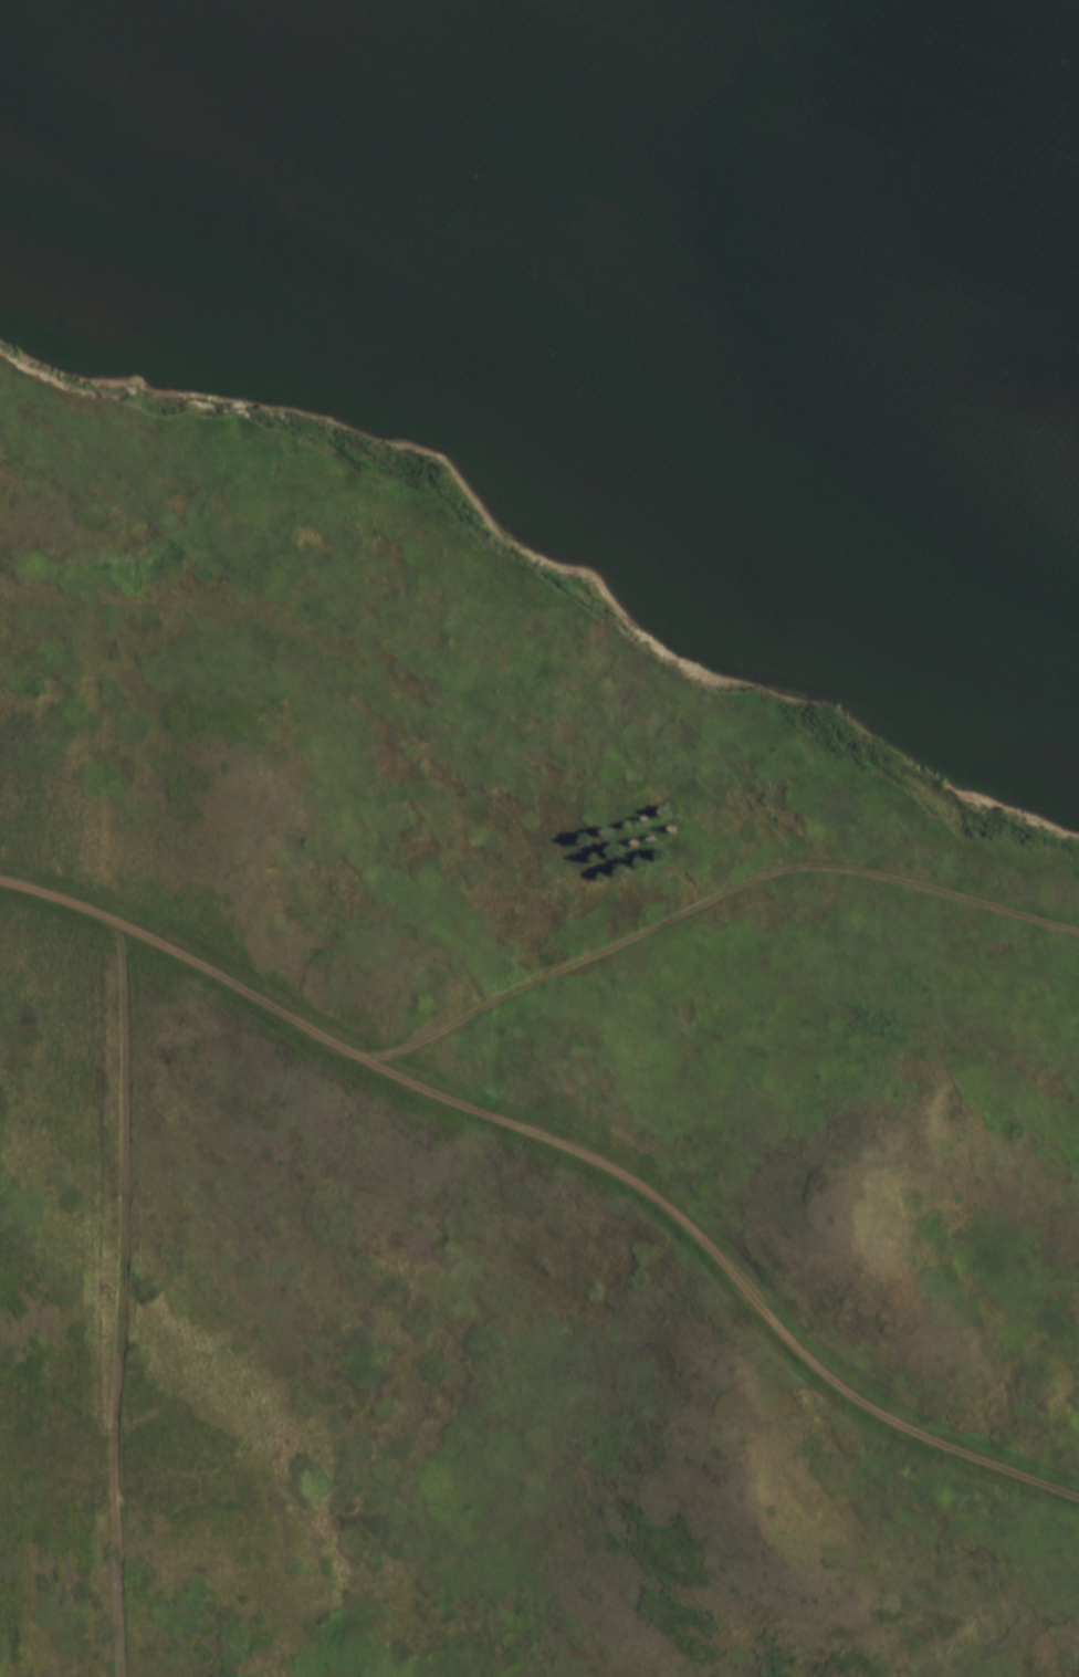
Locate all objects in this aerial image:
road: (719, 893)
road: (574, 1135)

